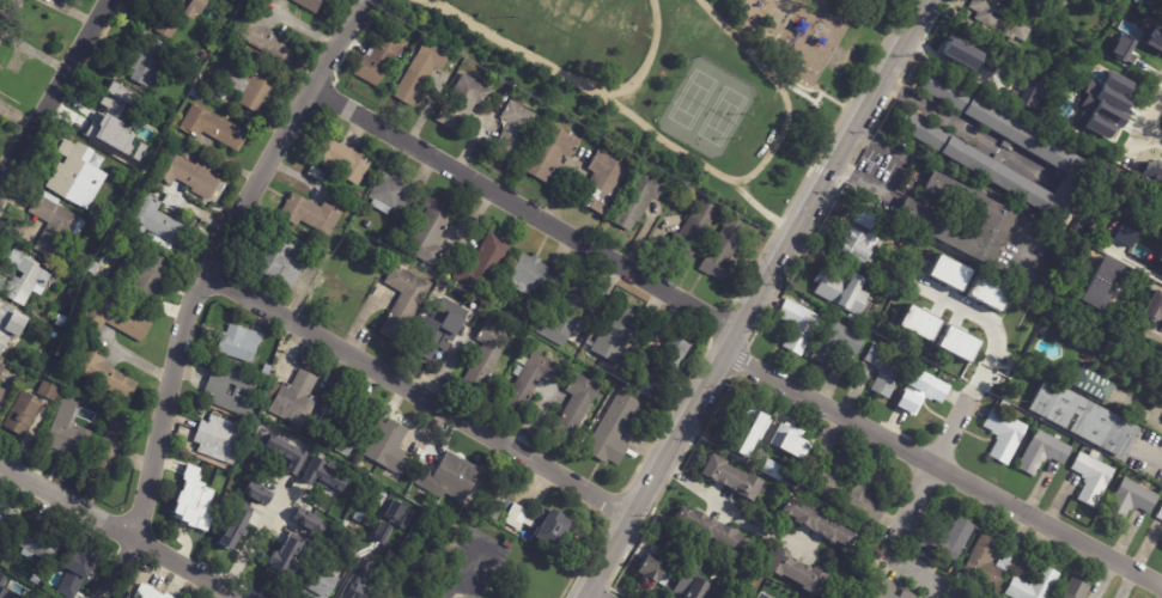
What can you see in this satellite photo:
building: (19, 1)
building: (1010, 1)
building: (1136, 1)
building: (1, 2)
building: (311, 5)
road: (443, 5)
building: (180, 16)
building: (1002, 19)
road: (304, 29)
building: (266, 36)
road: (341, 39)
building: (1154, 39)
building: (1, 43)
building: (1121, 47)
building: (384, 54)
building: (203, 55)
building: (963, 55)
building: (0, 59)
building: (147, 59)
road: (647, 60)
building: (199, 65)
building: (1023, 68)
building: (425, 71)
park: (676, 80)
building: (251, 87)
road: (779, 90)
road: (53, 93)
building: (1029, 93)
building: (199, 94)
building: (1008, 99)
building: (467, 102)
building: (1102, 103)
road: (615, 104)
park: (707, 106)
road: (1151, 120)
building: (116, 122)
building: (214, 127)
road: (963, 129)
building: (517, 132)
building: (949, 147)
building: (552, 154)
building: (345, 160)
building: (1152, 173)
building: (80, 175)
road: (893, 175)
building: (191, 176)
building: (603, 182)
building: (359, 195)
building: (395, 195)
building: (641, 200)
road: (525, 208)
building: (314, 214)
building: (862, 218)
building: (955, 219)
building: (160, 222)
building: (56, 224)
building: (432, 232)
building: (694, 232)
building: (1125, 233)
building: (857, 249)
building: (373, 250)
building: (724, 250)
building: (281, 262)
building: (1157, 263)
building: (486, 264)
building: (96, 268)
road: (1142, 269)
building: (948, 273)
building: (147, 275)
building: (535, 276)
building: (26, 279)
building: (323, 281)
building: (1100, 285)
building: (840, 291)
building: (986, 293)
road: (755, 297)
building: (404, 301)
building: (1154, 306)
building: (567, 316)
building: (118, 318)
building: (918, 322)
road: (996, 323)
building: (62, 324)
building: (12, 325)
building: (793, 325)
building: (442, 328)
road: (185, 329)
road: (1140, 329)
building: (1041, 330)
building: (617, 335)
building: (242, 343)
building: (957, 343)
building: (834, 344)
building: (912, 350)
building: (489, 354)
building: (951, 361)
building: (47, 370)
building: (883, 370)
building: (2, 371)
building: (268, 371)
building: (664, 371)
building: (105, 374)
building: (533, 380)
building: (1091, 380)
building: (993, 382)
building: (51, 391)
building: (233, 391)
building: (918, 391)
building: (2, 393)
building: (71, 397)
building: (294, 399)
road: (419, 401)
building: (579, 407)
building: (24, 414)
building: (1078, 414)
building: (342, 423)
building: (748, 427)
building: (616, 431)
building: (1002, 435)
building: (784, 438)
building: (71, 439)
building: (223, 440)
building: (390, 447)
building: (109, 451)
building: (1039, 452)
building: (285, 453)
road: (1150, 457)
road: (932, 462)
building: (772, 469)
road: (939, 470)
building: (324, 477)
building: (828, 477)
building: (451, 478)
building: (728, 478)
building: (1089, 478)
building: (263, 489)
building: (195, 492)
building: (865, 495)
building: (383, 500)
building: (1126, 501)
road: (732, 506)
building: (497, 512)
building: (341, 513)
building: (1158, 513)
building: (7, 524)
building: (546, 525)
building: (815, 525)
building: (235, 526)
building: (298, 529)
building: (708, 529)
road: (120, 532)
road: (254, 537)
building: (947, 541)
building: (359, 542)
building: (511, 543)
building: (42, 545)
building: (1161, 547)
building: (677, 549)
building: (284, 556)
building: (0, 557)
building: (75, 562)
building: (984, 562)
building: (647, 572)
building: (792, 572)
road: (460, 573)
road: (926, 578)
building: (663, 579)
building: (36, 580)
building: (322, 584)
building: (688, 586)
building: (1032, 586)
building: (355, 588)
building: (60, 590)
building: (886, 590)
building: (1072, 590)
building: (153, 592)
building: (34, 593)
building: (42, 594)
building: (906, 594)
building: (785, 596)
building: (51, 597)
building: (376, 597)
building: (1087, 597)

